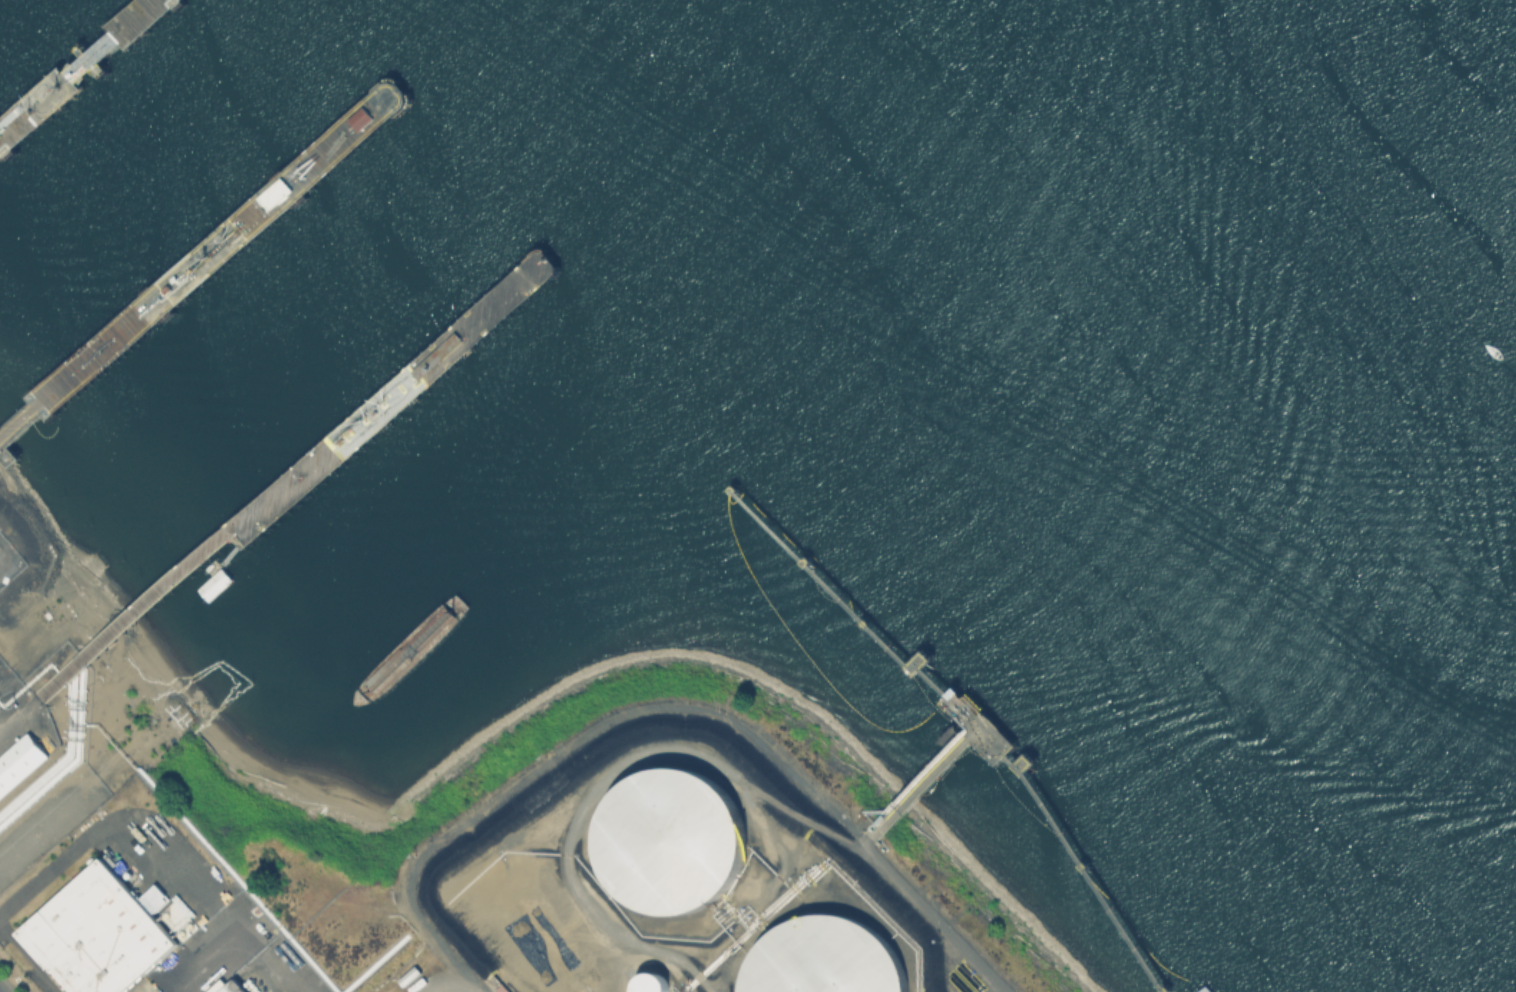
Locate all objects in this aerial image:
pier: (77, 70)
building: (366, 117)
building: (286, 189)
river: (1324, 213)
pier: (204, 259)
pier: (327, 453)
building: (6, 564)
road: (666, 710)
pier: (956, 741)
building: (21, 766)
building: (12, 805)
building: (669, 844)
building: (96, 933)
road: (236, 947)
building: (823, 958)
building: (650, 986)
building: (231, 987)
pier: (1204, 989)

